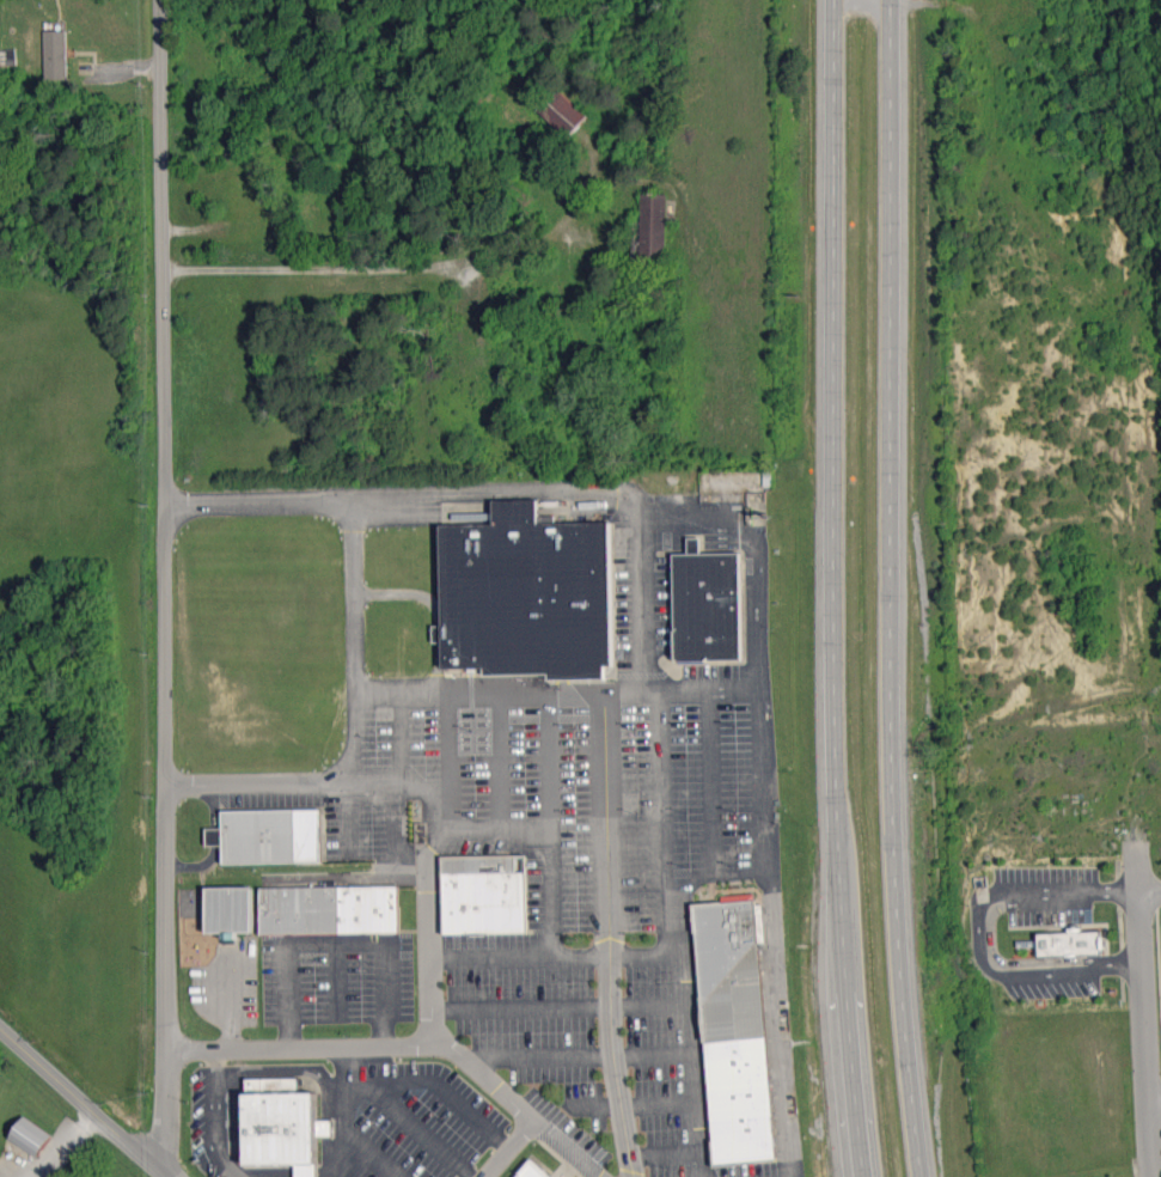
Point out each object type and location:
road: (864, 5)
building: (55, 54)
building: (567, 114)
building: (653, 226)
road: (346, 268)
road: (587, 493)
road: (165, 584)
road: (833, 588)
road: (894, 588)
building: (526, 594)
building: (708, 606)
road: (527, 694)
road: (300, 779)
building: (268, 836)
road: (550, 849)
road: (766, 854)
road: (1113, 889)
road: (1046, 890)
parking lot: (1046, 891)
building: (484, 894)
road: (1148, 896)
building: (228, 909)
building: (330, 909)
road: (427, 922)
road: (684, 932)
building: (1065, 940)
road: (331, 943)
road: (490, 955)
road: (1003, 962)
road: (1117, 962)
road: (994, 971)
parking lot: (1050, 983)
road: (1139, 1008)
building: (735, 1027)
road: (407, 1042)
road: (435, 1087)
road: (1153, 1100)
road: (83, 1102)
road: (346, 1110)
road: (214, 1116)
building: (282, 1124)
road: (422, 1129)
building: (30, 1136)
road: (503, 1146)
building: (532, 1170)

